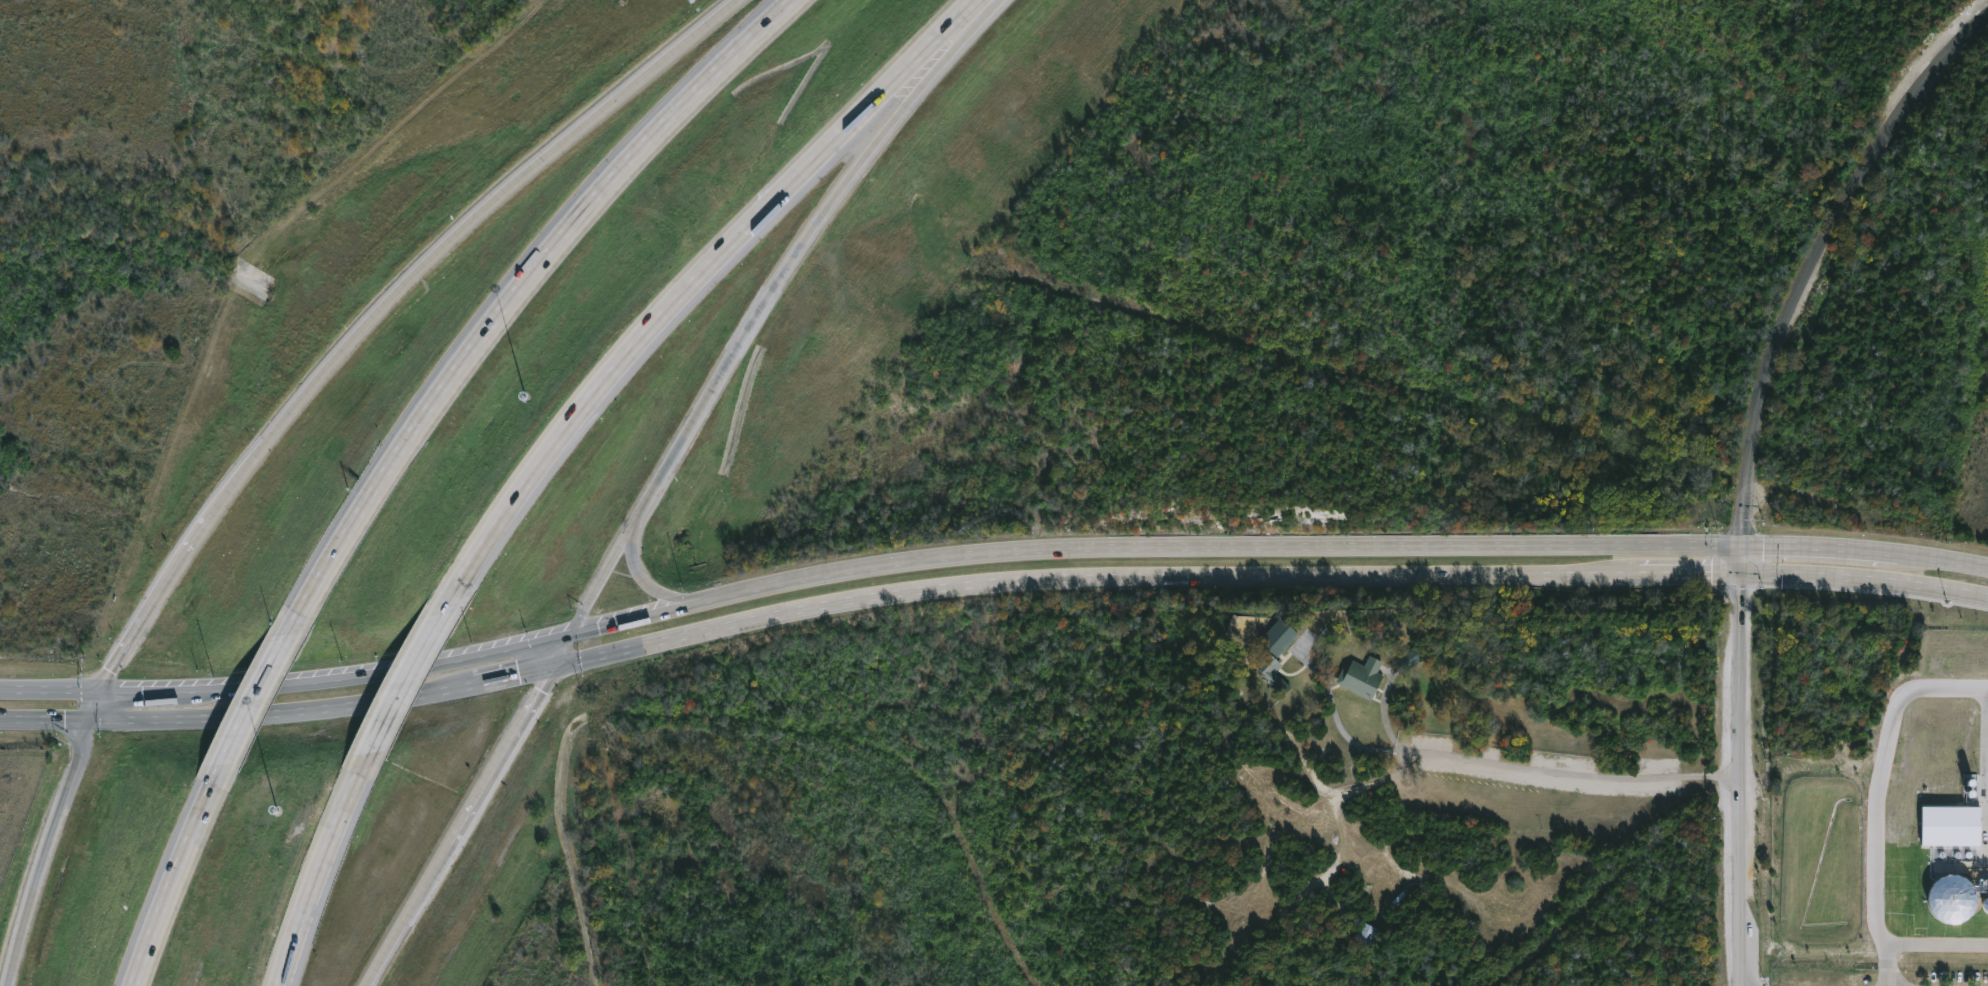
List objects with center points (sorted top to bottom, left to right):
road: (956, 14)
road: (923, 67)
park: (153, 236)
road: (450, 237)
park: (150, 241)
road: (1806, 265)
road: (513, 295)
road: (674, 298)
road: (726, 360)
street lamp: (527, 396)
road: (1404, 545)
traffic signals: (1743, 545)
road: (1269, 575)
traffic signals: (1743, 575)
road: (776, 588)
road: (654, 590)
road: (151, 601)
road: (650, 616)
traffic signals: (570, 631)
building: (1278, 637)
road: (563, 647)
building: (1410, 658)
traffic signals: (556, 664)
road: (382, 670)
building: (1267, 670)
road: (513, 673)
building: (1361, 677)
road: (409, 678)
road: (50, 688)
traffic signals: (100, 690)
road: (145, 690)
road: (258, 699)
road: (95, 704)
road: (281, 710)
road: (1339, 714)
road: (45, 717)
traffic signals: (90, 718)
road: (1987, 731)
road: (502, 754)
road: (1570, 773)
road: (1743, 780)
road: (1880, 799)
road: (61, 800)
street lamp: (278, 810)
building: (1951, 825)
road: (320, 868)
road: (174, 873)
building: (1952, 898)
road: (405, 914)
road: (20, 934)
building: (1364, 934)
road: (1931, 942)

